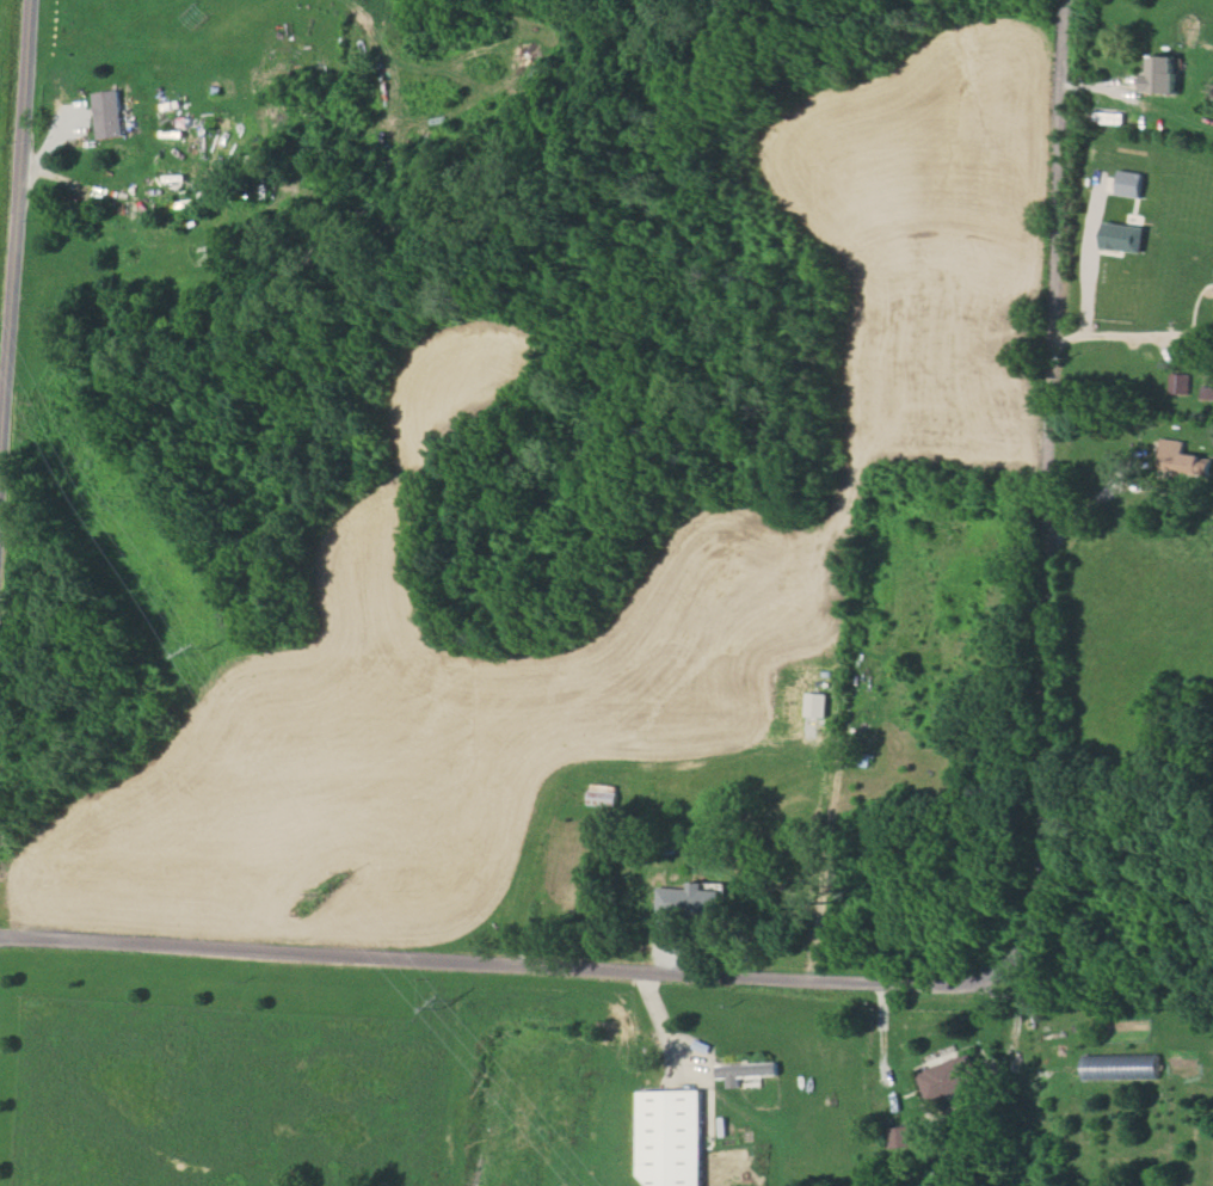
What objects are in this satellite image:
building: (1159, 74)
crop: (5, 86)
building: (109, 115)
building: (1128, 184)
crop: (1135, 225)
building: (1122, 236)
road: (14, 251)
road: (1131, 332)
power tower: (42, 382)
building: (1177, 383)
road: (1048, 451)
building: (1182, 460)
crop: (854, 480)
crop: (1138, 626)
building: (814, 705)
building: (602, 794)
power tower: (325, 879)
building: (688, 902)
road: (540, 958)
power tower: (451, 1006)
road: (658, 1021)
road: (1014, 1028)
building: (745, 1071)
crop: (303, 1073)
building: (949, 1079)
building: (671, 1137)
building: (900, 1137)

